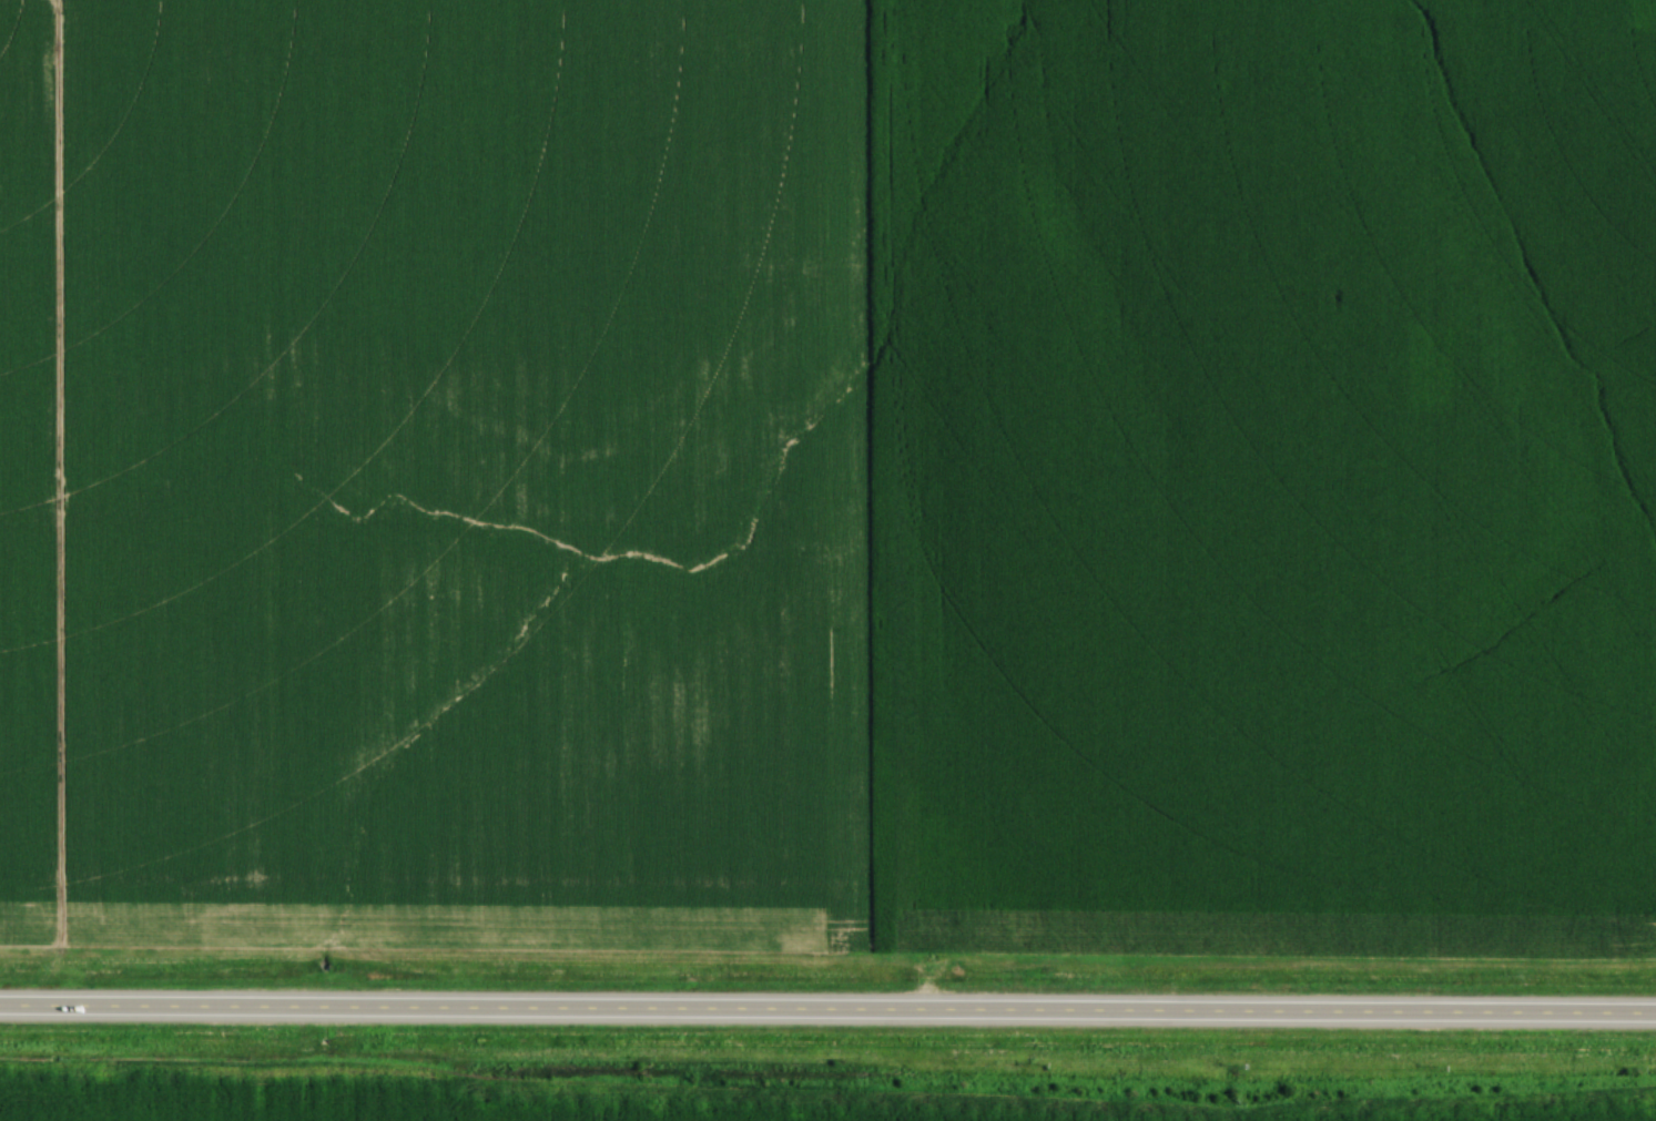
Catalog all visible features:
crop: (856, 467)
crop: (29, 476)
road: (827, 1012)
crop: (613, 1107)

